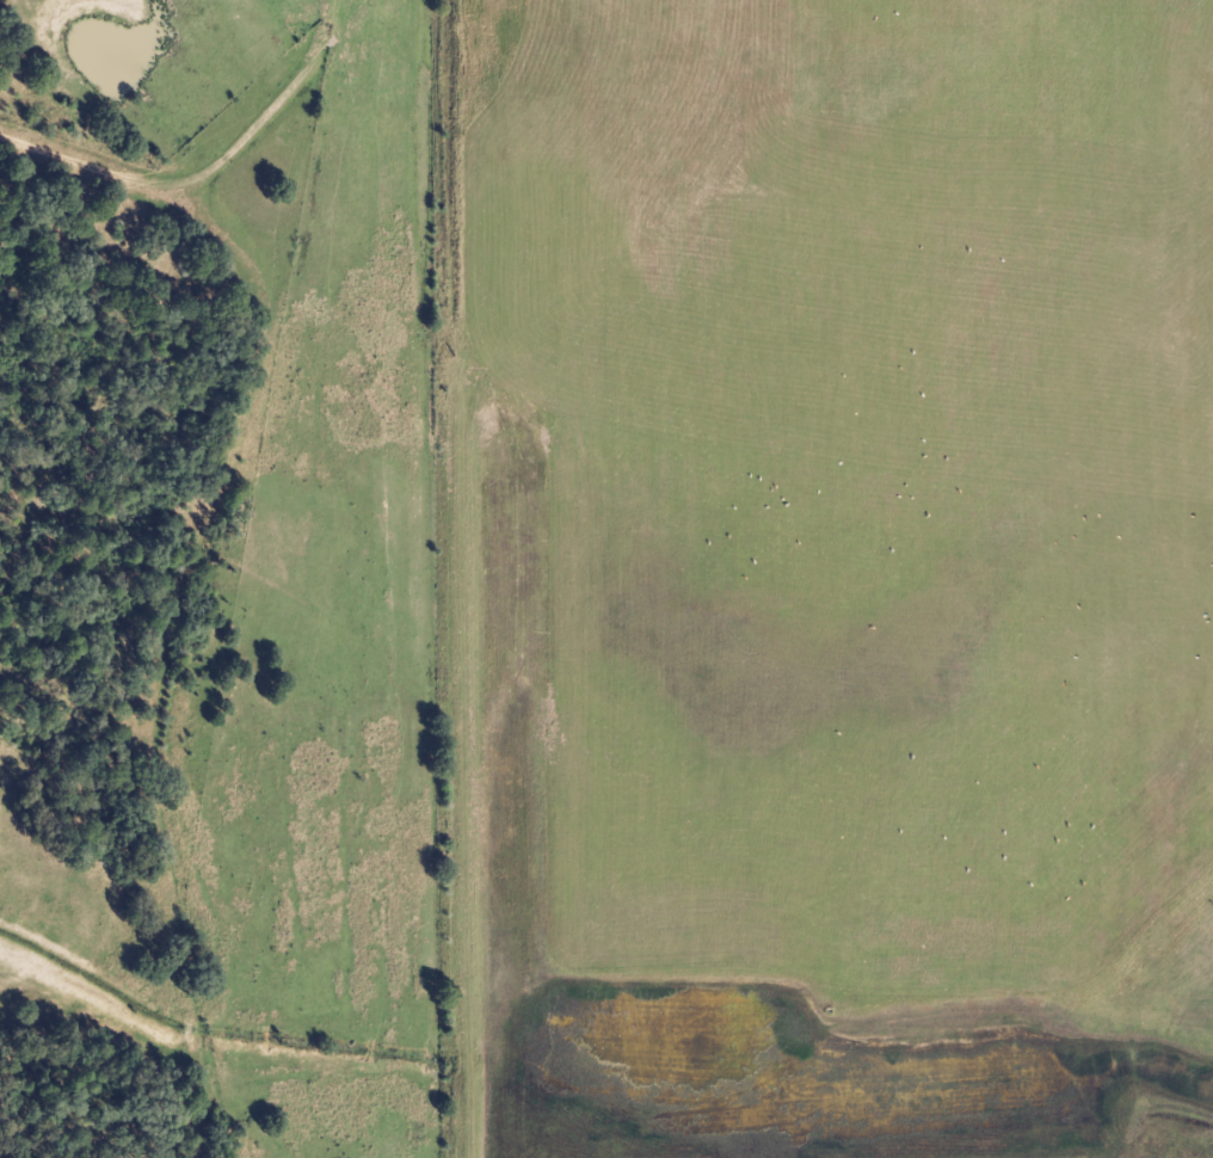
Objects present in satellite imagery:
road: (205, 168)

